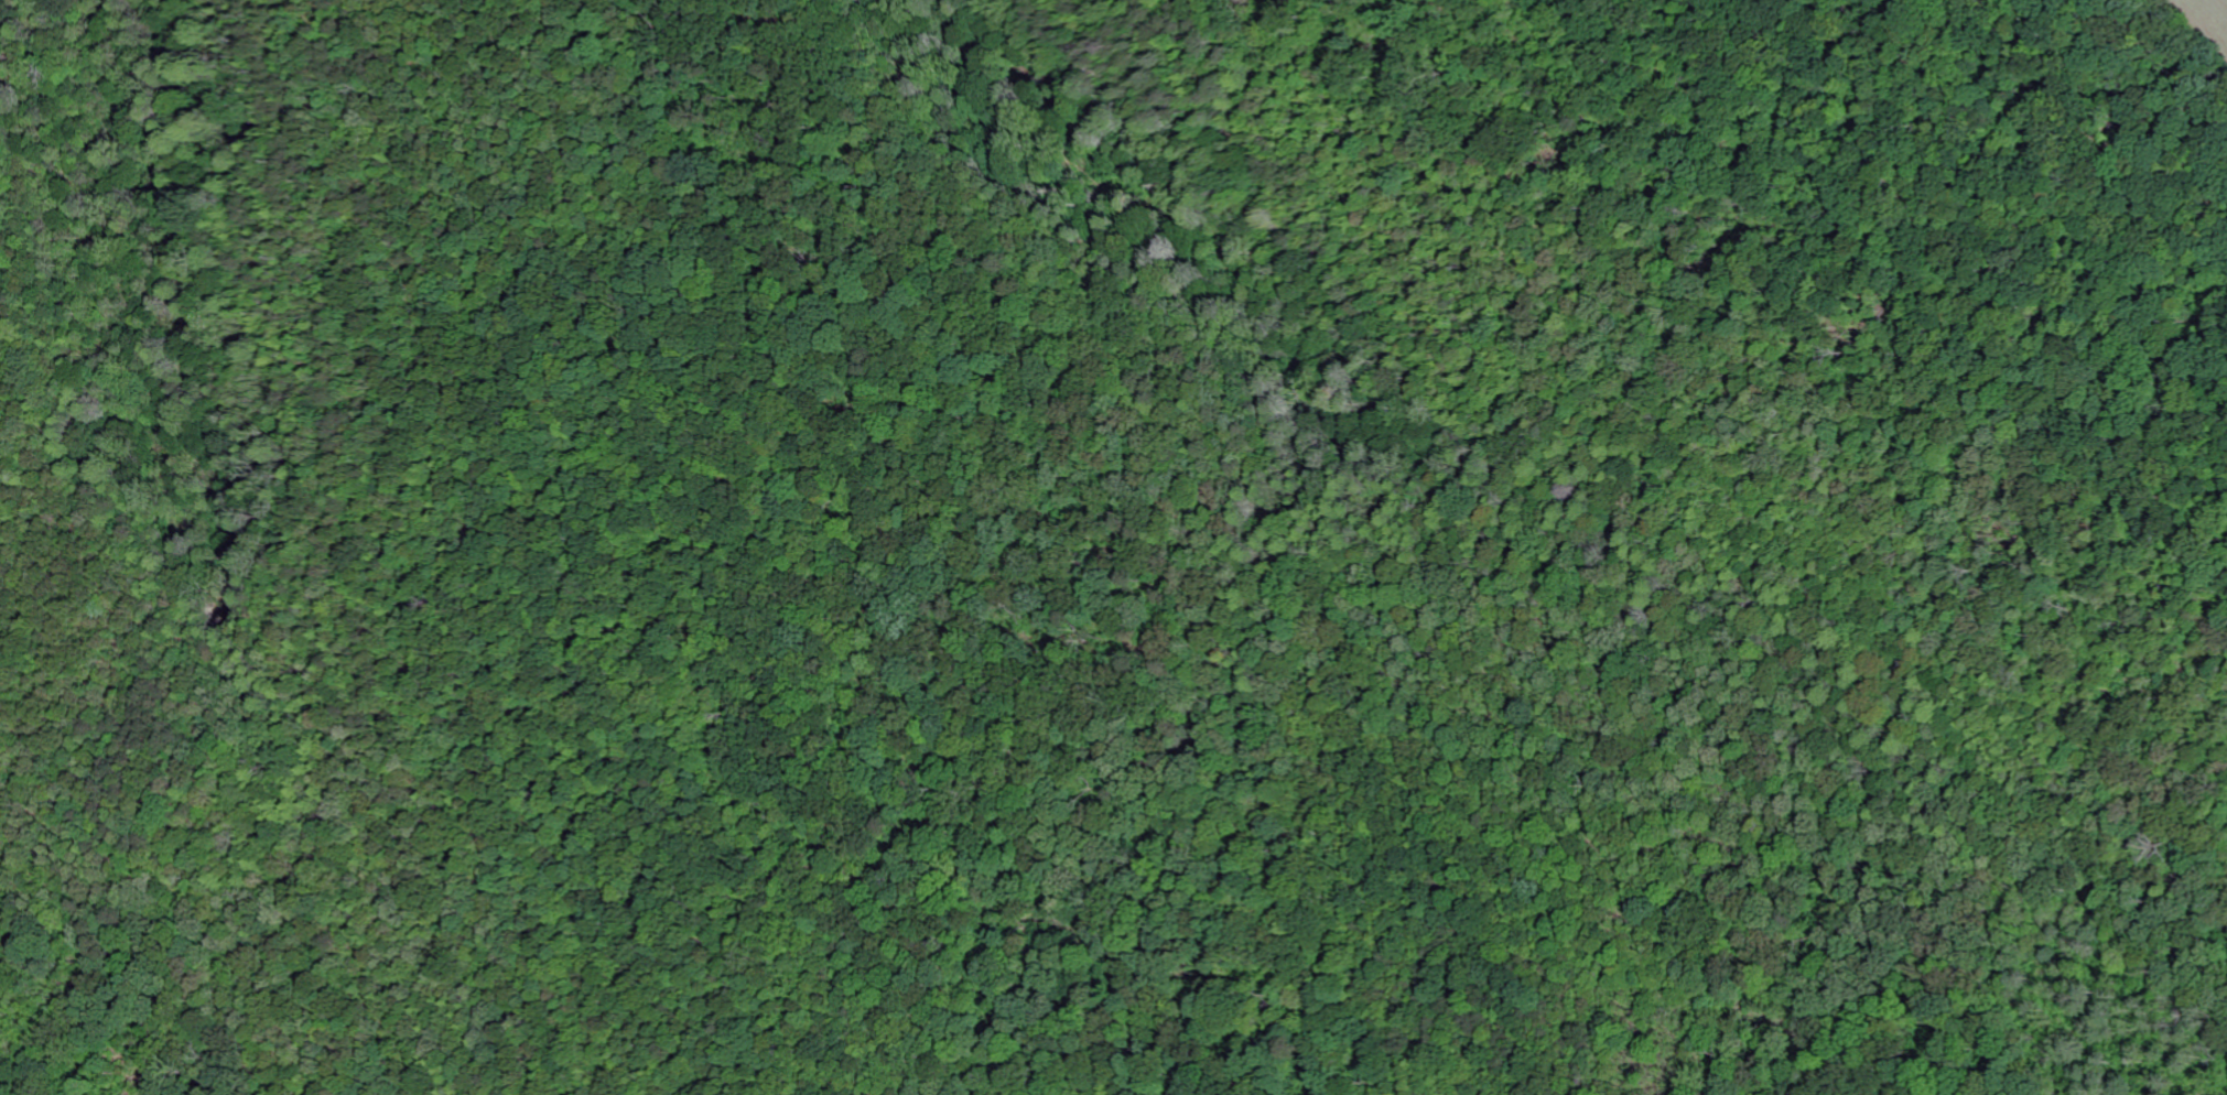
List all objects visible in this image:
park: (1142, 140)
park: (226, 289)

